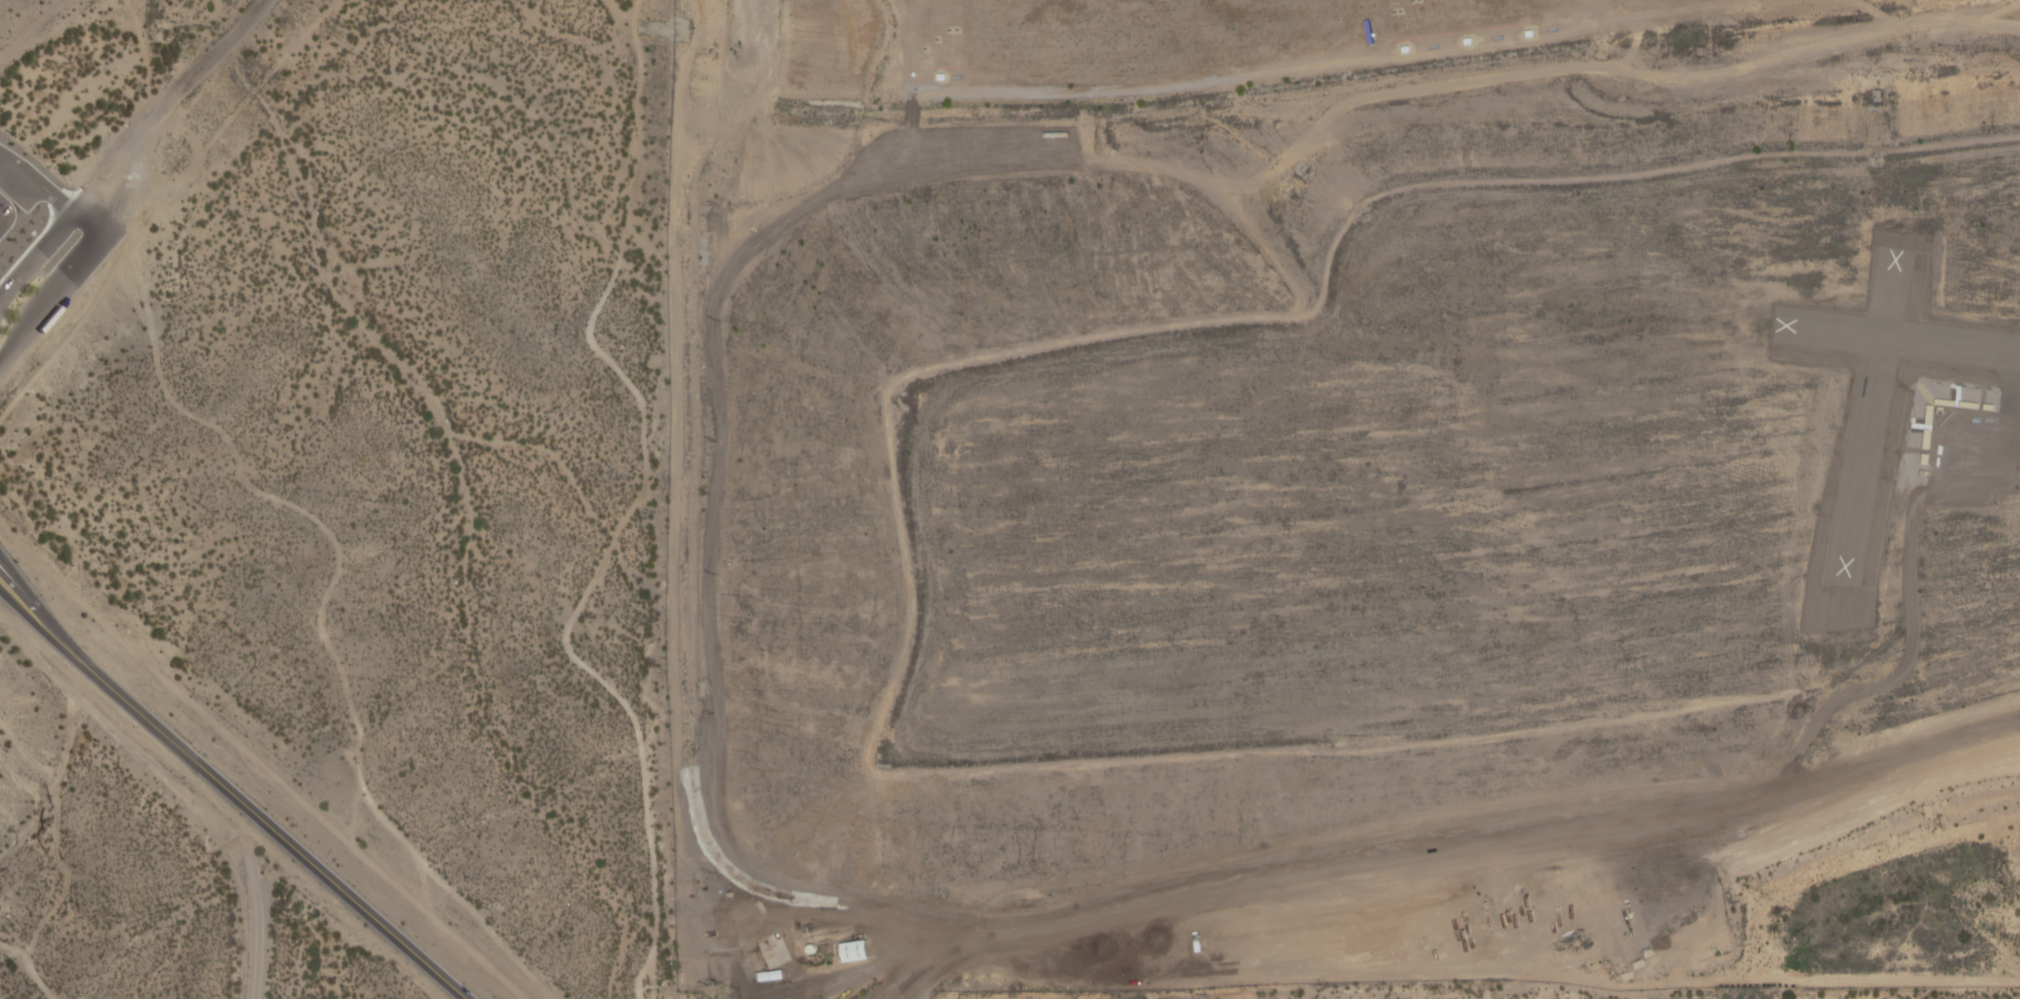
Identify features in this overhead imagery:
road: (201, 64)
road: (106, 175)
road: (120, 187)
road: (49, 196)
road: (36, 256)
street lamp: (1, 277)
road: (49, 300)
road: (41, 611)
road: (40, 631)
road: (274, 832)
road: (1443, 837)
road: (255, 899)
building: (855, 952)
road: (856, 983)
dam: (1686, 996)

